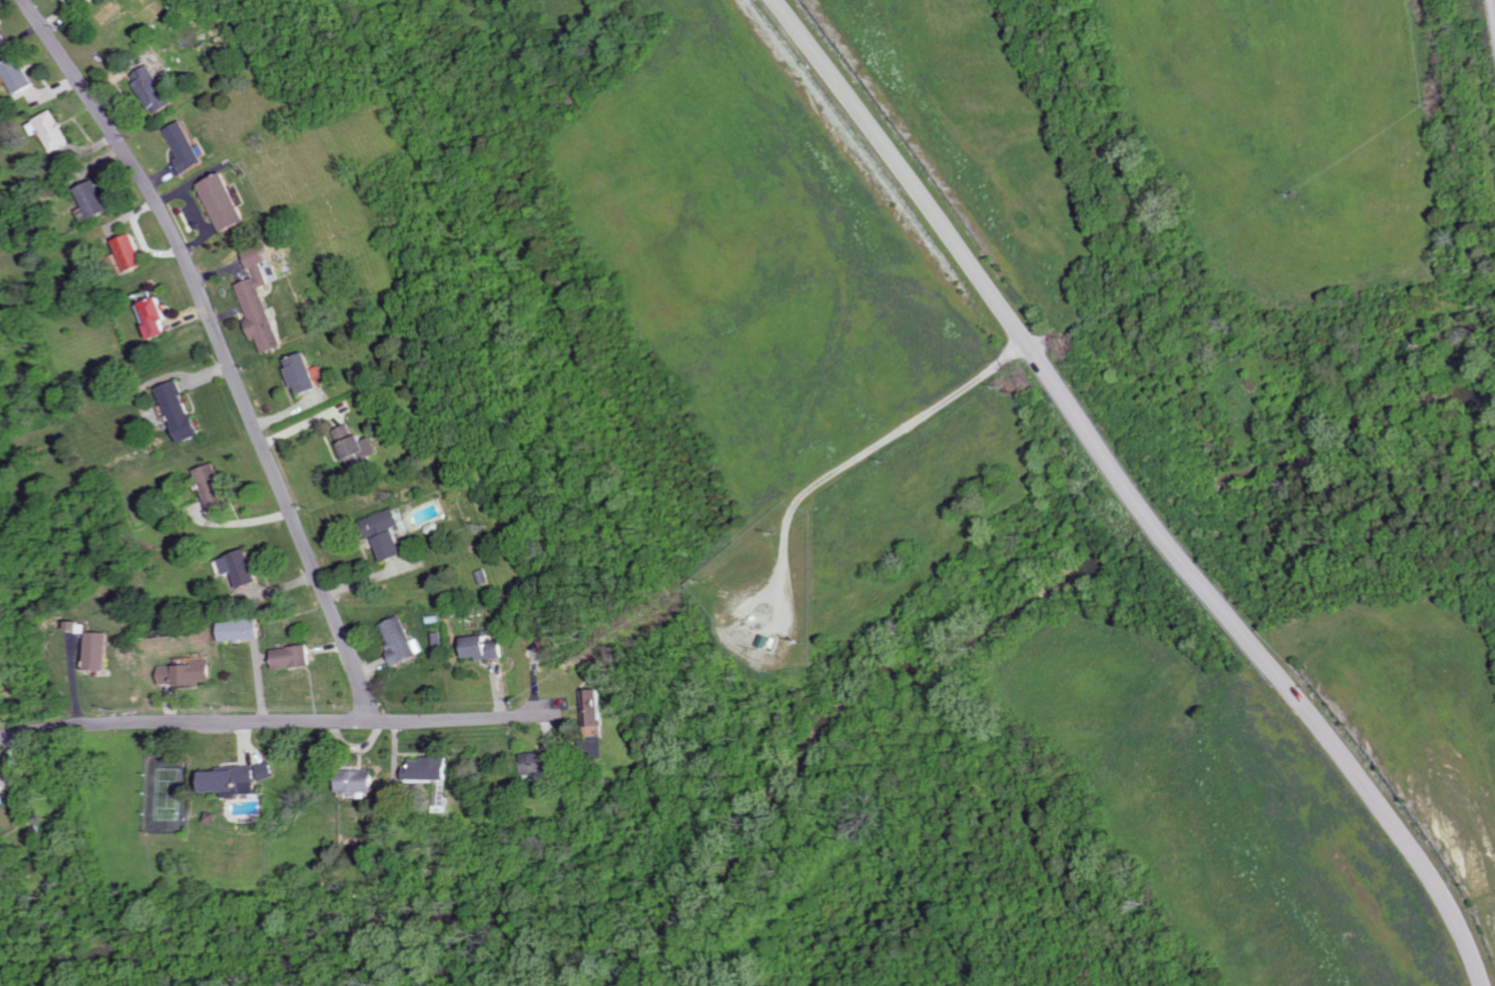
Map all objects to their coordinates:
building: (82, 3)
building: (2, 38)
building: (20, 75)
building: (155, 90)
building: (55, 131)
building: (188, 149)
building: (96, 200)
building: (226, 203)
building: (131, 252)
building: (261, 302)
building: (157, 318)
road: (221, 349)
building: (304, 372)
building: (180, 410)
building: (357, 447)
road: (866, 449)
building: (214, 486)
road: (1136, 489)
building: (389, 533)
building: (243, 567)
building: (243, 629)
building: (402, 640)
building: (486, 647)
building: (102, 650)
building: (295, 656)
building: (188, 672)
building: (598, 706)
road: (278, 722)
building: (541, 762)
building: (433, 768)
building: (268, 770)
building: (233, 780)
building: (361, 780)
building: (2, 783)

